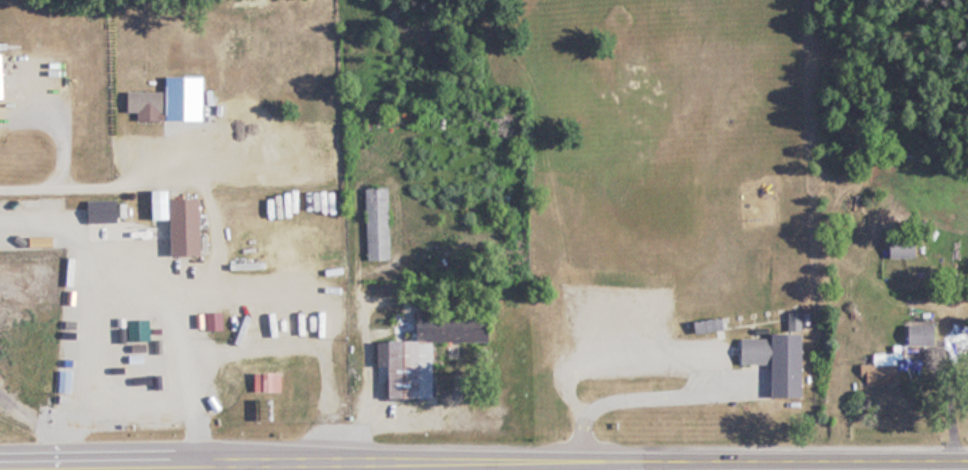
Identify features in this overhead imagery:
park: (880, 3)
building: (158, 103)
road: (105, 185)
building: (379, 223)
building: (189, 226)
building: (906, 246)
road: (167, 279)
building: (796, 321)
building: (712, 326)
building: (921, 334)
road: (84, 352)
building: (779, 361)
building: (410, 367)
building: (883, 368)
building: (269, 382)
building: (127, 389)
road: (483, 458)
road: (223, 464)

